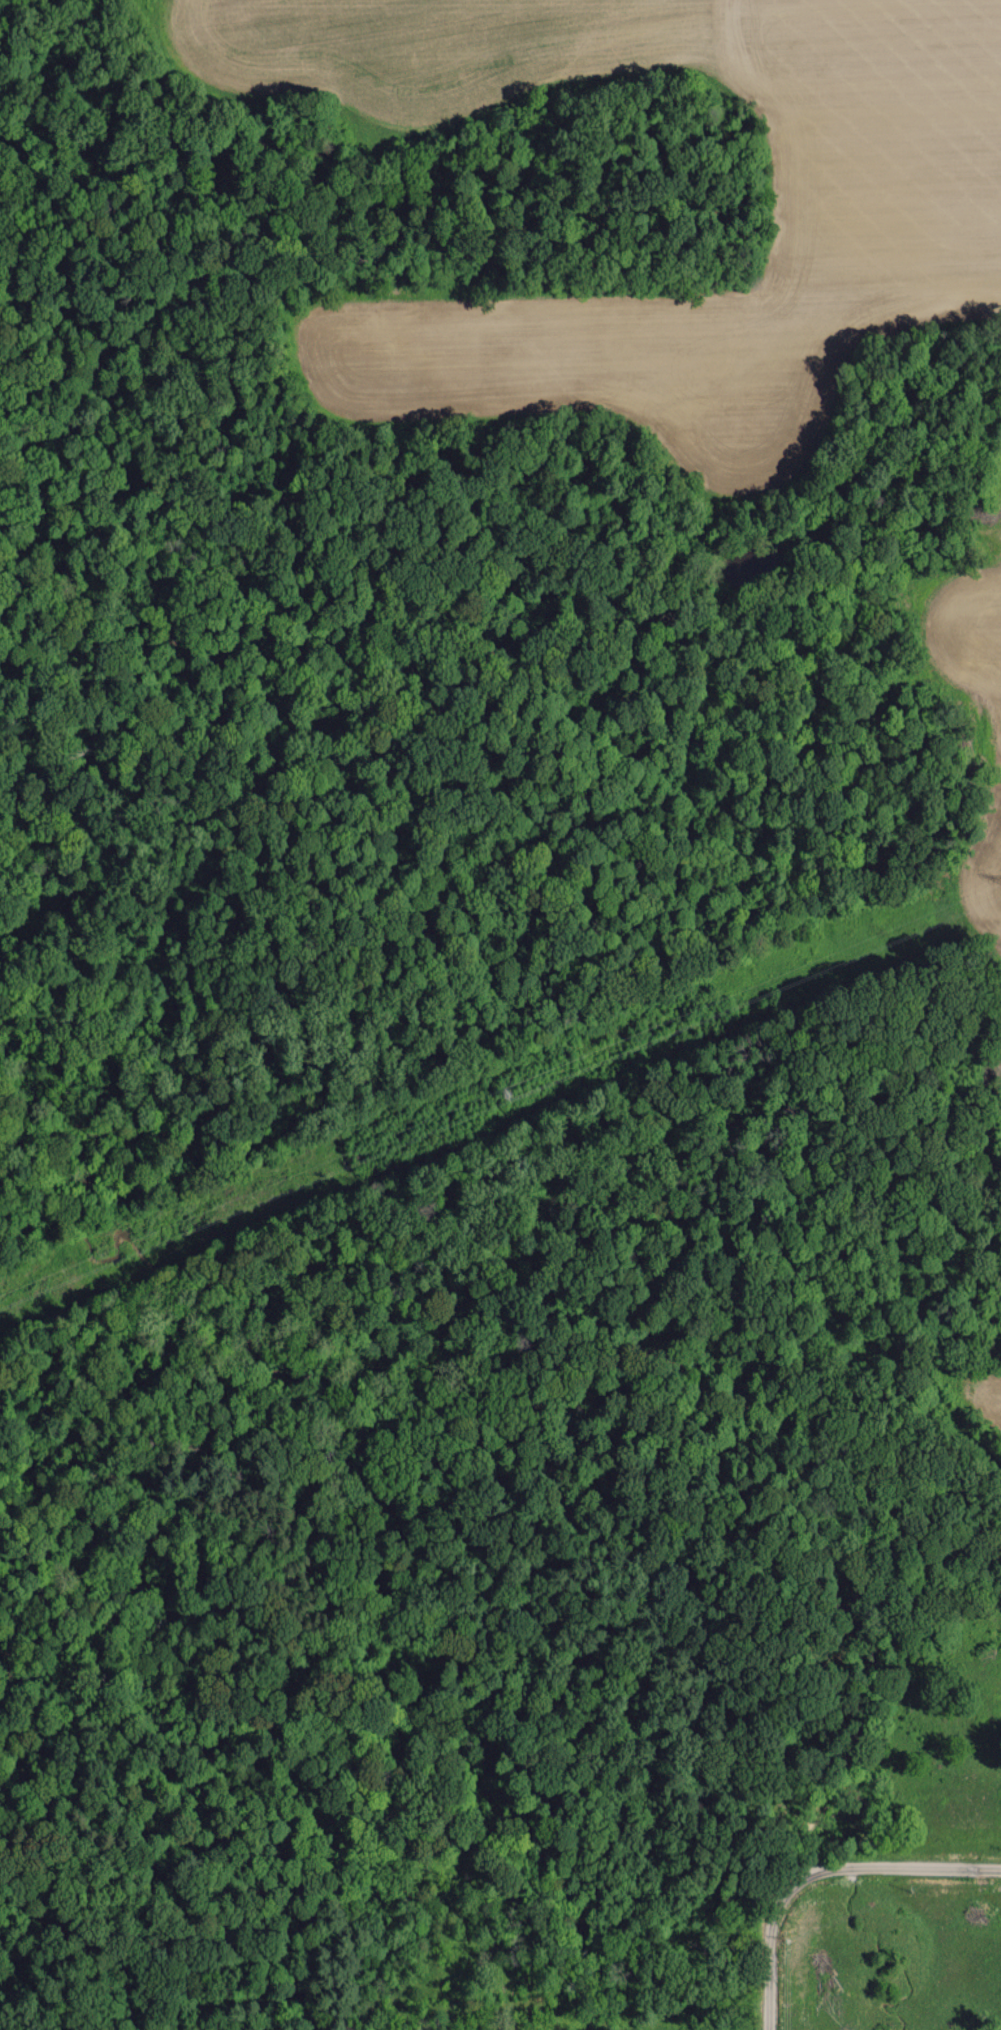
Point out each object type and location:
road: (846, 1879)
road: (743, 1998)

